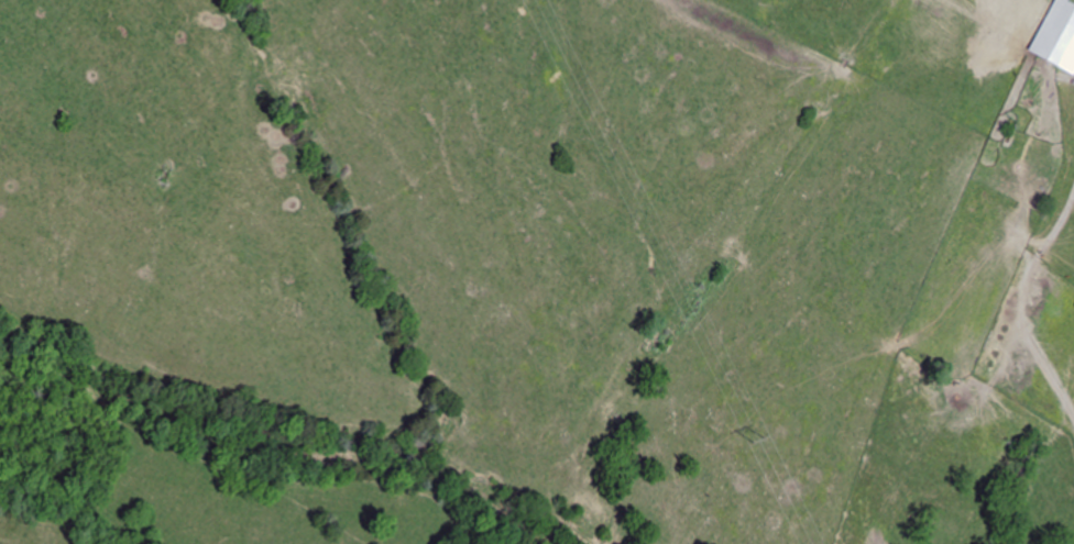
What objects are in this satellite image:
building: (1059, 33)

